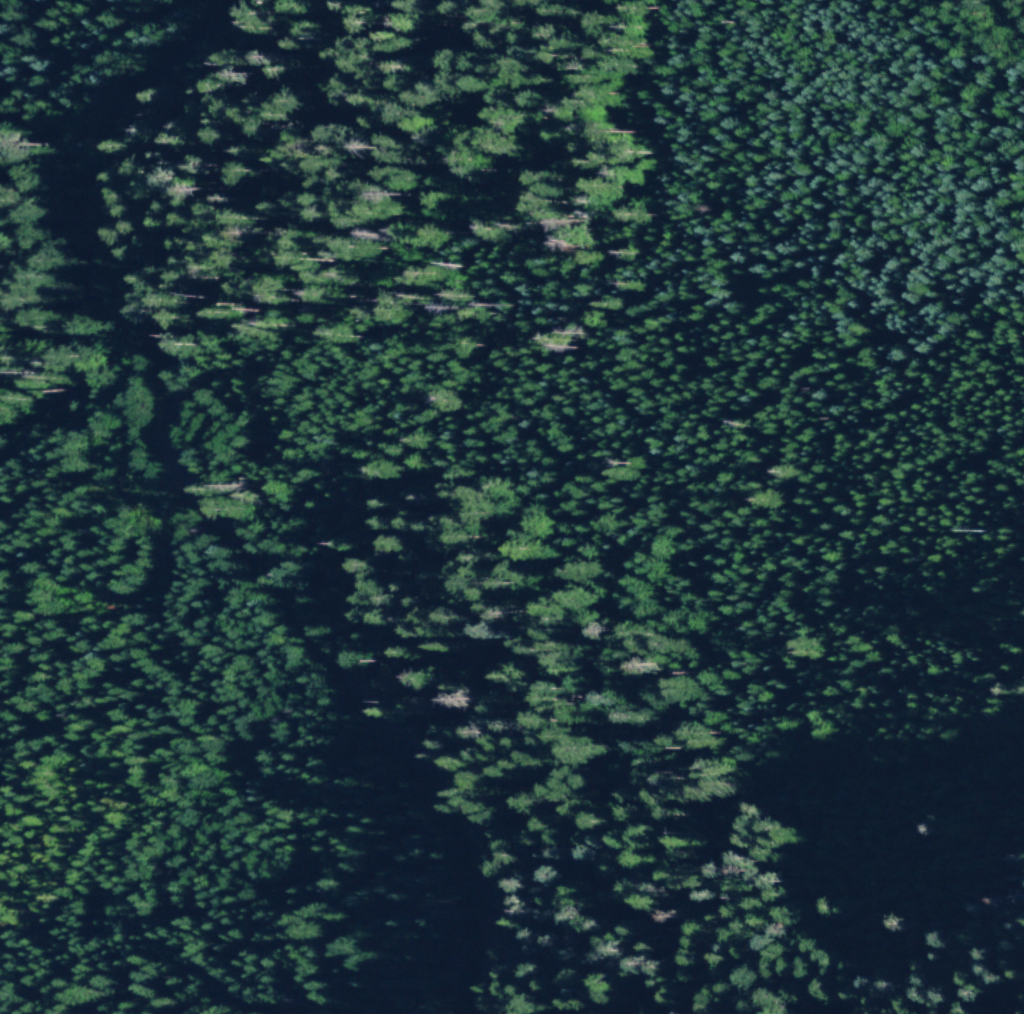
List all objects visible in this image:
road: (201, 508)

